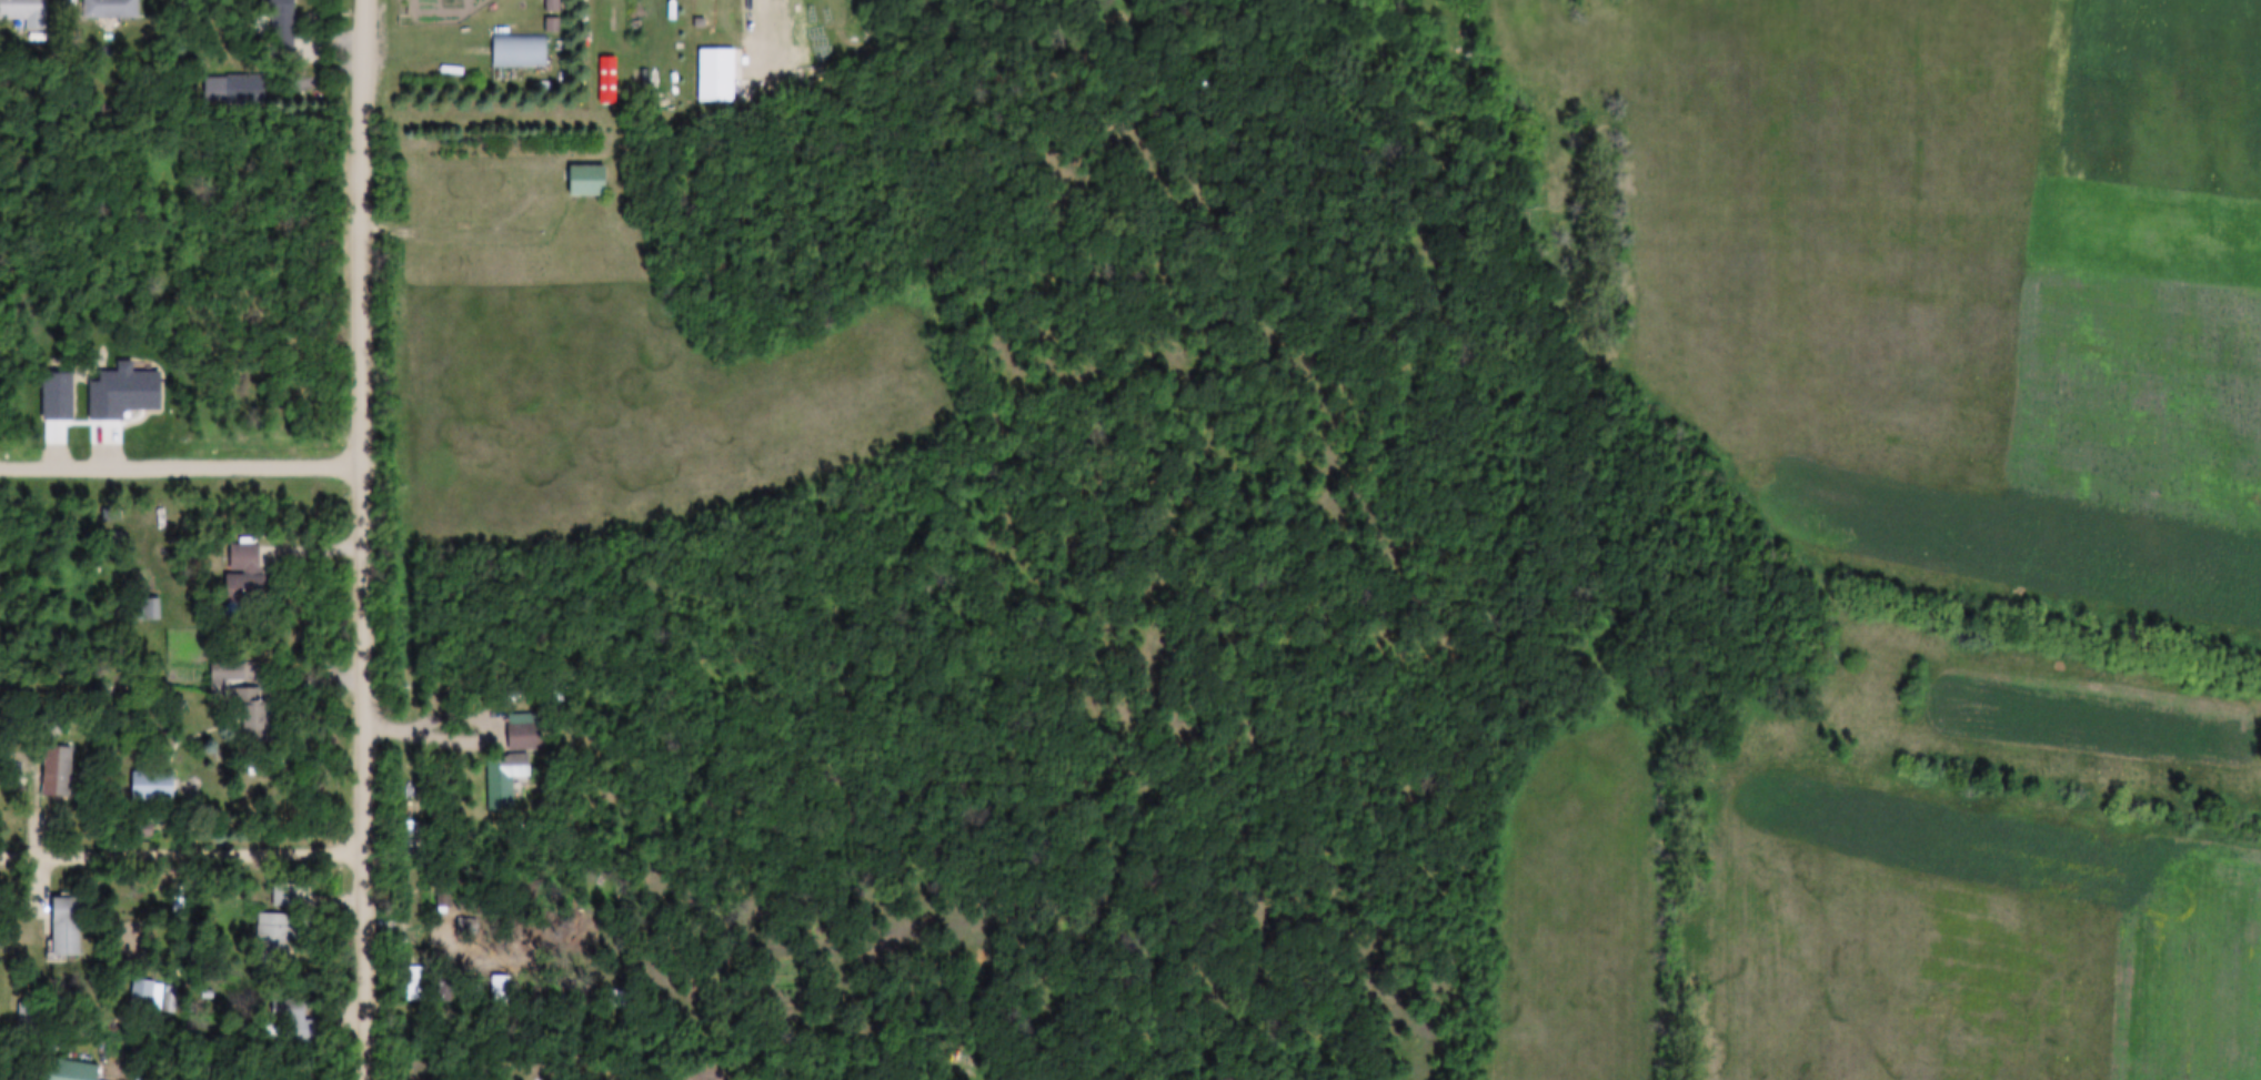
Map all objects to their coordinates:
building: (552, 7)
building: (110, 9)
building: (22, 10)
building: (280, 26)
building: (519, 52)
building: (715, 77)
building: (233, 90)
building: (585, 182)
road: (471, 234)
road: (368, 539)
building: (243, 558)
building: (243, 588)
building: (150, 609)
building: (560, 693)
building: (248, 711)
building: (43, 728)
building: (523, 736)
building: (56, 771)
building: (503, 780)
building: (151, 786)
road: (184, 854)
building: (283, 895)
building: (178, 906)
building: (64, 927)
building: (273, 932)
building: (414, 977)
building: (152, 996)
building: (285, 1010)
building: (28, 1017)
building: (68, 1071)

